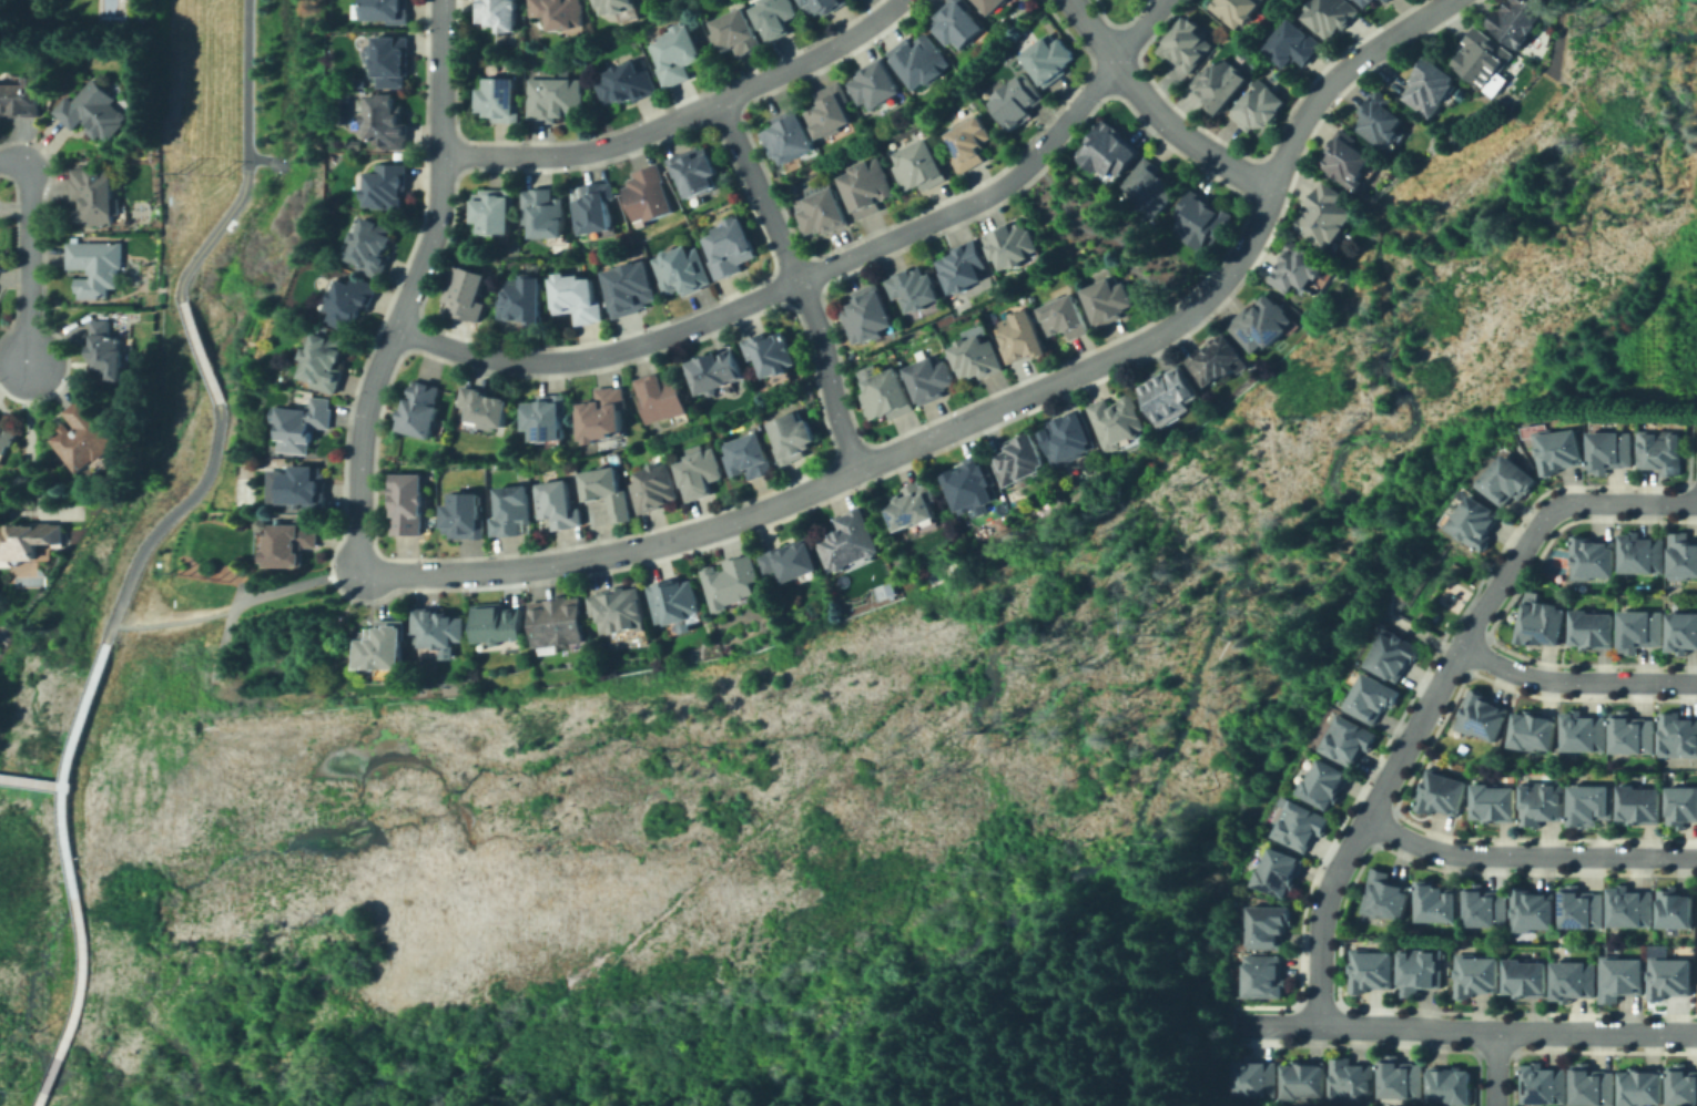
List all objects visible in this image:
building: (1381, 0)
building: (1384, 0)
building: (1365, 3)
building: (823, 6)
building: (996, 6)
building: (619, 9)
building: (383, 10)
building: (1236, 10)
building: (557, 12)
building: (500, 14)
building: (1517, 14)
building: (1327, 16)
building: (774, 18)
building: (962, 24)
building: (736, 33)
building: (1186, 44)
building: (1291, 44)
building: (1482, 51)
building: (678, 55)
building: (1049, 59)
building: (392, 61)
building: (922, 63)
building: (1431, 76)
building: (1225, 82)
building: (628, 83)
building: (357, 84)
building: (875, 85)
road: (244, 88)
building: (23, 98)
building: (552, 99)
building: (359, 100)
building: (496, 101)
building: (1015, 103)
building: (1262, 104)
building: (1380, 109)
building: (94, 111)
road: (1155, 111)
building: (829, 112)
road: (682, 115)
building: (389, 124)
building: (786, 143)
building: (968, 147)
building: (1108, 151)
road: (254, 156)
building: (1348, 160)
building: (918, 167)
building: (697, 173)
building: (1155, 185)
building: (387, 186)
building: (864, 187)
building: (649, 194)
building: (95, 196)
building: (592, 209)
building: (496, 211)
building: (1327, 212)
building: (542, 214)
building: (815, 214)
building: (1202, 219)
road: (1106, 232)
road: (206, 242)
building: (1018, 244)
building: (372, 246)
building: (730, 247)
road: (29, 254)
building: (95, 266)
building: (966, 267)
road: (822, 269)
building: (1301, 269)
building: (682, 270)
road: (800, 280)
building: (919, 286)
road: (413, 287)
building: (629, 288)
building: (465, 293)
building: (573, 299)
building: (1108, 299)
building: (519, 300)
building: (348, 301)
building: (872, 314)
building: (1065, 318)
building: (1269, 324)
building: (1022, 338)
road: (202, 349)
building: (105, 350)
building: (770, 357)
building: (1221, 360)
building: (973, 361)
building: (327, 362)
building: (717, 375)
building: (926, 379)
building: (1170, 395)
building: (885, 397)
building: (663, 398)
building: (423, 409)
building: (482, 411)
road: (986, 413)
building: (0, 414)
building: (604, 414)
building: (547, 419)
building: (1119, 421)
building: (303, 426)
building: (8, 437)
building: (89, 437)
building: (1073, 437)
building: (792, 442)
road: (26, 443)
building: (1562, 443)
building: (1612, 443)
building: (1664, 446)
building: (749, 457)
building: (1025, 460)
park: (179, 472)
building: (699, 473)
building: (1510, 482)
building: (976, 484)
building: (304, 485)
building: (608, 491)
building: (652, 493)
building: (409, 504)
building: (558, 505)
building: (917, 505)
building: (508, 513)
road: (173, 515)
building: (460, 519)
building: (1475, 528)
building: (848, 536)
building: (24, 540)
building: (292, 541)
building: (1642, 550)
building: (1685, 552)
building: (791, 554)
building: (1593, 555)
park: (1554, 560)
building: (732, 575)
building: (674, 593)
road: (263, 595)
park: (1447, 603)
building: (617, 606)
building: (497, 615)
building: (556, 615)
road: (174, 616)
building: (1541, 619)
building: (436, 621)
building: (1594, 625)
building: (1643, 626)
building: (1684, 626)
building: (384, 645)
park: (67, 647)
building: (1394, 657)
road: (1574, 680)
road: (1435, 689)
building: (1373, 700)
building: (1483, 716)
building: (1535, 731)
building: (1584, 731)
road: (72, 735)
building: (1630, 735)
building: (1678, 736)
building: (1352, 740)
road: (33, 780)
building: (1324, 785)
building: (1441, 793)
building: (1542, 802)
building: (1495, 803)
building: (1589, 803)
building: (1684, 803)
building: (1640, 805)
building: (1303, 826)
road: (1527, 854)
park: (32, 868)
building: (1280, 874)
building: (1383, 897)
building: (1436, 903)
building: (1583, 904)
building: (1484, 905)
building: (1632, 907)
building: (1675, 908)
building: (1533, 911)
building: (1270, 925)
building: (1371, 970)
building: (1420, 970)
road: (77, 972)
building: (1477, 975)
building: (1526, 976)
building: (1667, 976)
building: (1266, 979)
building: (1620, 980)
building: (1574, 981)
park: (132, 994)
road: (1366, 1024)
road: (1595, 1032)
road: (1492, 1068)
building: (1257, 1078)
building: (1400, 1079)
building: (1351, 1081)
building: (1303, 1082)
building: (1639, 1084)
building: (1681, 1084)
building: (1593, 1085)
building: (1449, 1086)
building: (1545, 1086)

